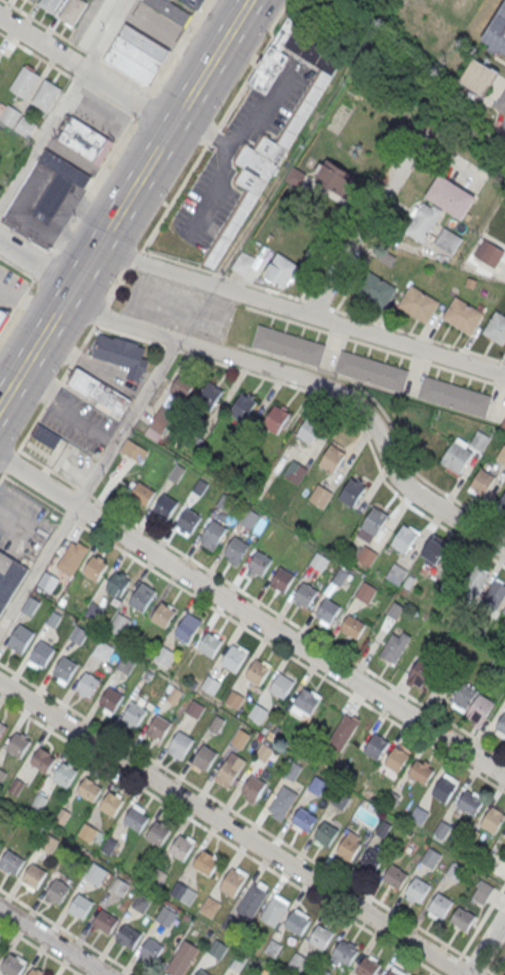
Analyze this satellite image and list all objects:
building: (32, 0)
river: (307, 0)
building: (49, 4)
road: (288, 6)
building: (176, 8)
building: (72, 11)
parking lot: (153, 24)
road: (109, 33)
building: (497, 34)
road: (44, 40)
road: (77, 44)
road: (177, 46)
building: (136, 55)
road: (211, 62)
river: (366, 69)
road: (67, 73)
building: (479, 76)
building: (26, 81)
building: (45, 94)
road: (131, 94)
road: (142, 102)
building: (15, 118)
road: (214, 131)
road: (43, 137)
river: (474, 139)
building: (85, 140)
building: (271, 146)
building: (336, 178)
building: (57, 184)
building: (451, 196)
road: (368, 217)
building: (422, 221)
road: (68, 222)
building: (449, 240)
road: (327, 251)
building: (489, 252)
road: (369, 255)
road: (135, 259)
building: (243, 262)
road: (86, 264)
road: (17, 267)
building: (281, 270)
road: (225, 273)
parking lot: (10, 286)
building: (377, 292)
road: (318, 302)
parking lot: (178, 306)
building: (420, 306)
road: (301, 309)
building: (4, 315)
building: (464, 317)
building: (496, 330)
road: (417, 334)
road: (369, 345)
building: (289, 347)
building: (122, 354)
road: (502, 359)
road: (73, 360)
road: (274, 367)
road: (498, 367)
building: (373, 372)
road: (498, 384)
building: (182, 385)
building: (99, 392)
building: (209, 396)
building: (455, 398)
road: (330, 399)
building: (242, 407)
road: (500, 407)
building: (275, 419)
parking lot: (78, 422)
building: (159, 424)
building: (503, 424)
building: (310, 429)
building: (46, 436)
building: (239, 438)
building: (133, 450)
building: (463, 451)
building: (331, 458)
road: (10, 462)
building: (295, 473)
road: (2, 476)
building: (483, 482)
road: (91, 483)
building: (141, 492)
building: (352, 492)
building: (320, 498)
building: (226, 504)
building: (165, 506)
building: (500, 506)
building: (249, 519)
building: (374, 521)
building: (187, 522)
parking lot: (22, 523)
building: (212, 533)
building: (404, 539)
building: (236, 548)
building: (435, 550)
building: (71, 558)
building: (366, 558)
building: (260, 563)
building: (320, 563)
building: (94, 568)
building: (396, 575)
building: (9, 576)
building: (282, 579)
building: (47, 581)
building: (118, 583)
building: (475, 583)
building: (305, 594)
building: (366, 594)
building: (495, 596)
building: (140, 599)
road: (261, 603)
building: (30, 605)
building: (328, 610)
building: (504, 611)
building: (163, 614)
road: (252, 615)
building: (119, 624)
building: (353, 626)
building: (188, 627)
road: (253, 634)
building: (20, 638)
building: (210, 644)
building: (395, 648)
building: (102, 650)
building: (40, 654)
building: (164, 655)
building: (233, 657)
building: (125, 664)
building: (65, 668)
building: (257, 672)
building: (422, 672)
building: (88, 683)
building: (211, 686)
building: (281, 686)
building: (172, 693)
building: (465, 694)
building: (111, 698)
building: (235, 701)
building: (305, 702)
building: (482, 707)
building: (195, 710)
building: (134, 713)
building: (159, 726)
building: (500, 726)
building: (2, 728)
building: (342, 732)
building: (241, 741)
building: (181, 742)
building: (18, 744)
building: (376, 747)
building: (205, 756)
building: (397, 758)
building: (42, 759)
building: (228, 771)
building: (292, 771)
building: (421, 772)
building: (65, 773)
building: (2, 774)
building: (317, 786)
building: (16, 787)
building: (253, 787)
building: (444, 788)
building: (89, 789)
building: (39, 801)
building: (283, 802)
building: (112, 803)
building: (470, 803)
building: (62, 816)
building: (135, 818)
building: (304, 819)
road: (247, 820)
building: (493, 820)
road: (231, 827)
building: (88, 832)
building: (326, 832)
building: (158, 833)
road: (219, 836)
building: (49, 842)
building: (0, 843)
building: (109, 845)
building: (181, 847)
building: (348, 848)
building: (431, 857)
building: (206, 861)
building: (372, 861)
building: (12, 862)
building: (95, 874)
building: (35, 875)
building: (395, 876)
building: (233, 881)
building: (119, 886)
building: (418, 889)
building: (58, 890)
building: (483, 891)
building: (186, 894)
building: (252, 901)
building: (142, 903)
building: (80, 905)
building: (440, 905)
building: (209, 906)
building: (273, 911)
building: (166, 916)
building: (462, 918)
building: (105, 922)
building: (297, 923)
road: (477, 930)
road: (67, 931)
building: (321, 936)
building: (129, 937)
road: (54, 940)
building: (0, 945)
road: (487, 947)
building: (217, 948)
road: (40, 949)
building: (151, 950)
building: (345, 952)
building: (182, 958)
building: (298, 962)
road: (498, 964)
building: (12, 965)
building: (369, 967)
building: (36, 972)
building: (202, 972)
building: (392, 973)

